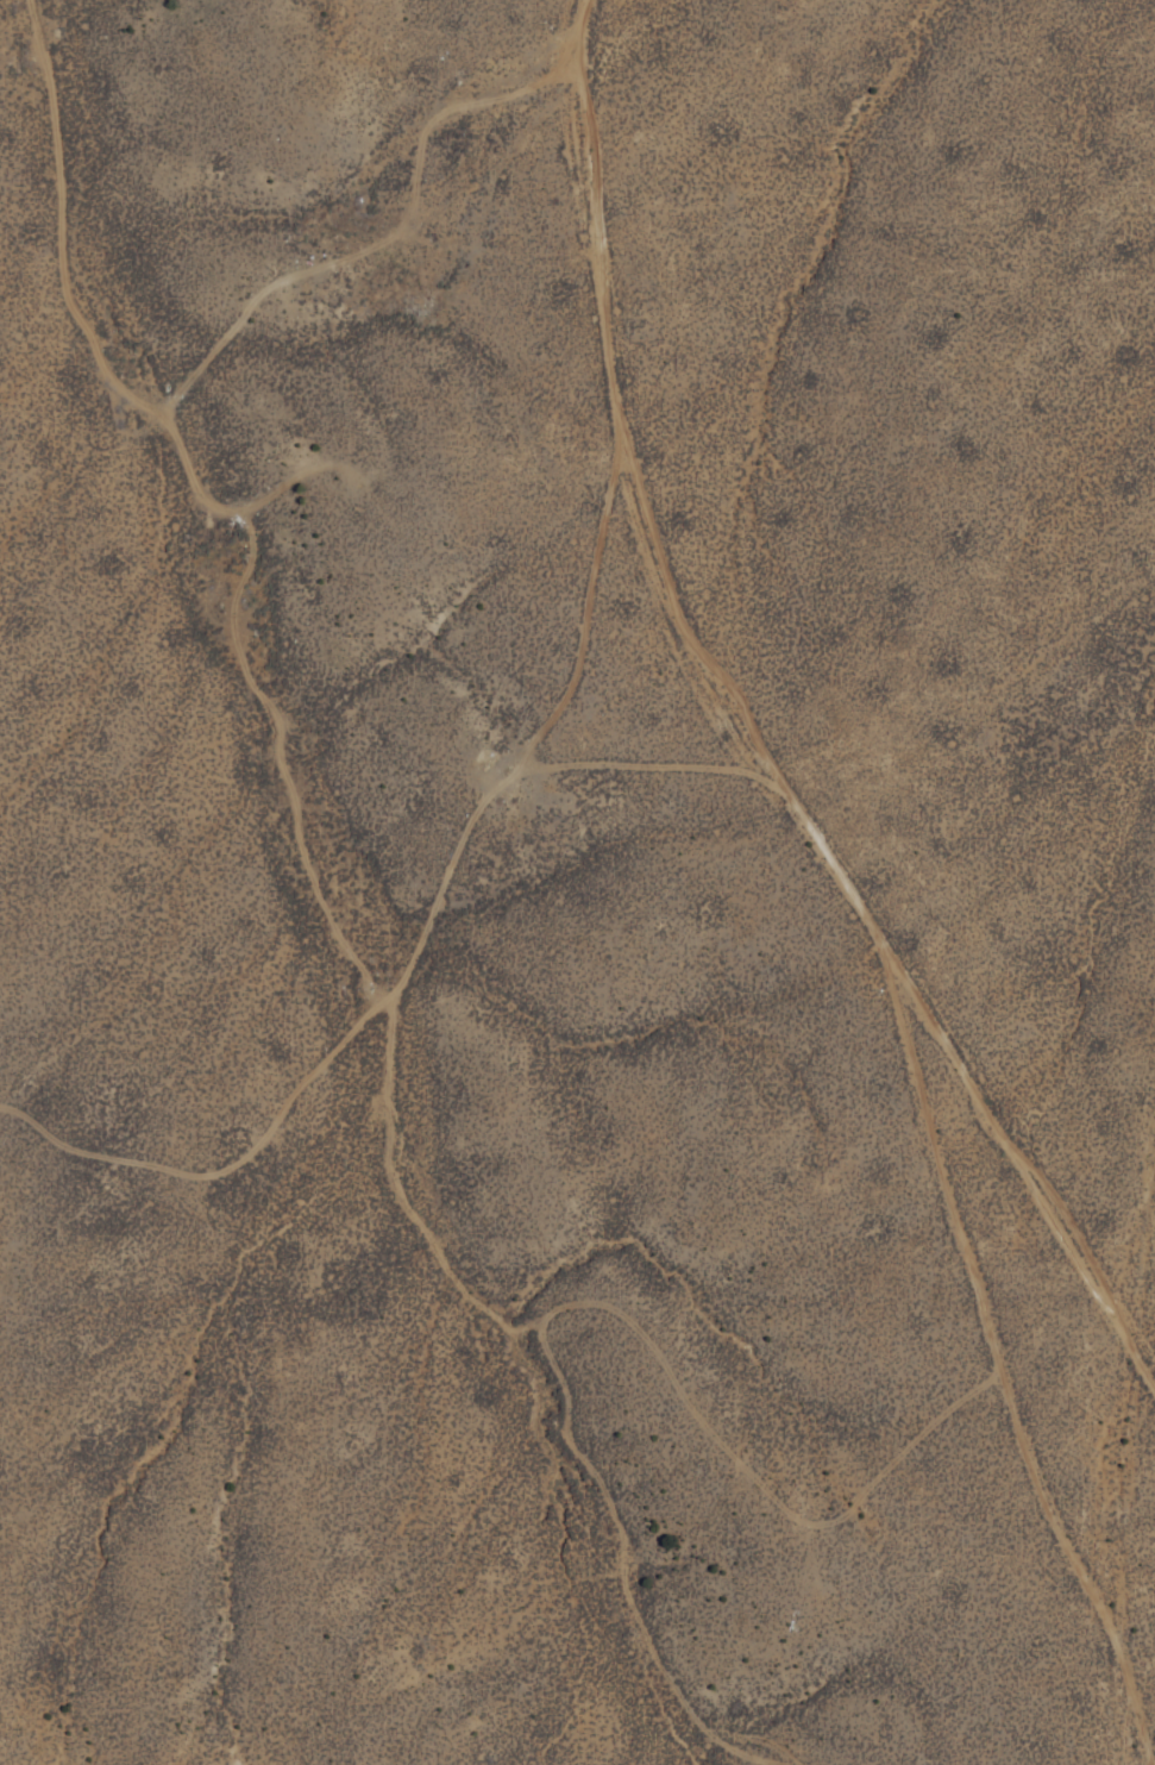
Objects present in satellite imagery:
road: (749, 730)
road: (1003, 1369)

